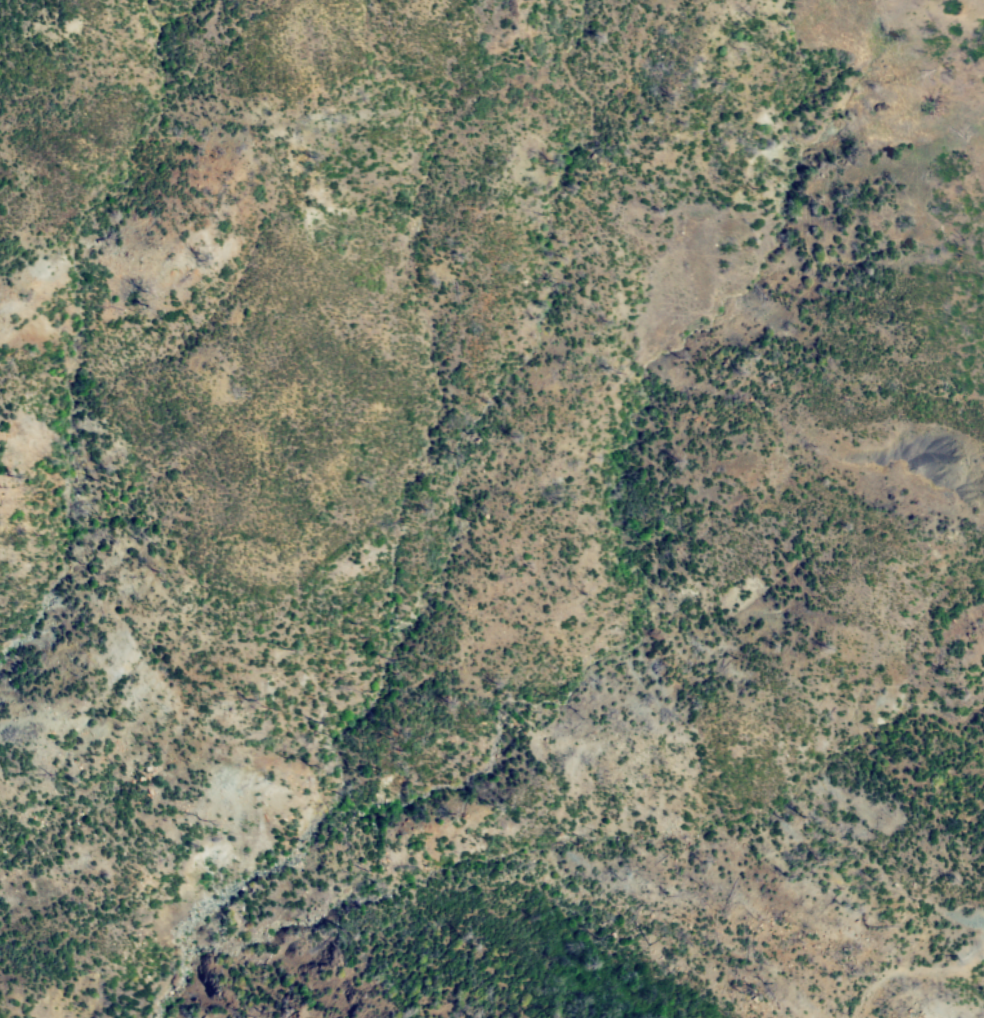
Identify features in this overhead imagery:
road: (915, 971)

